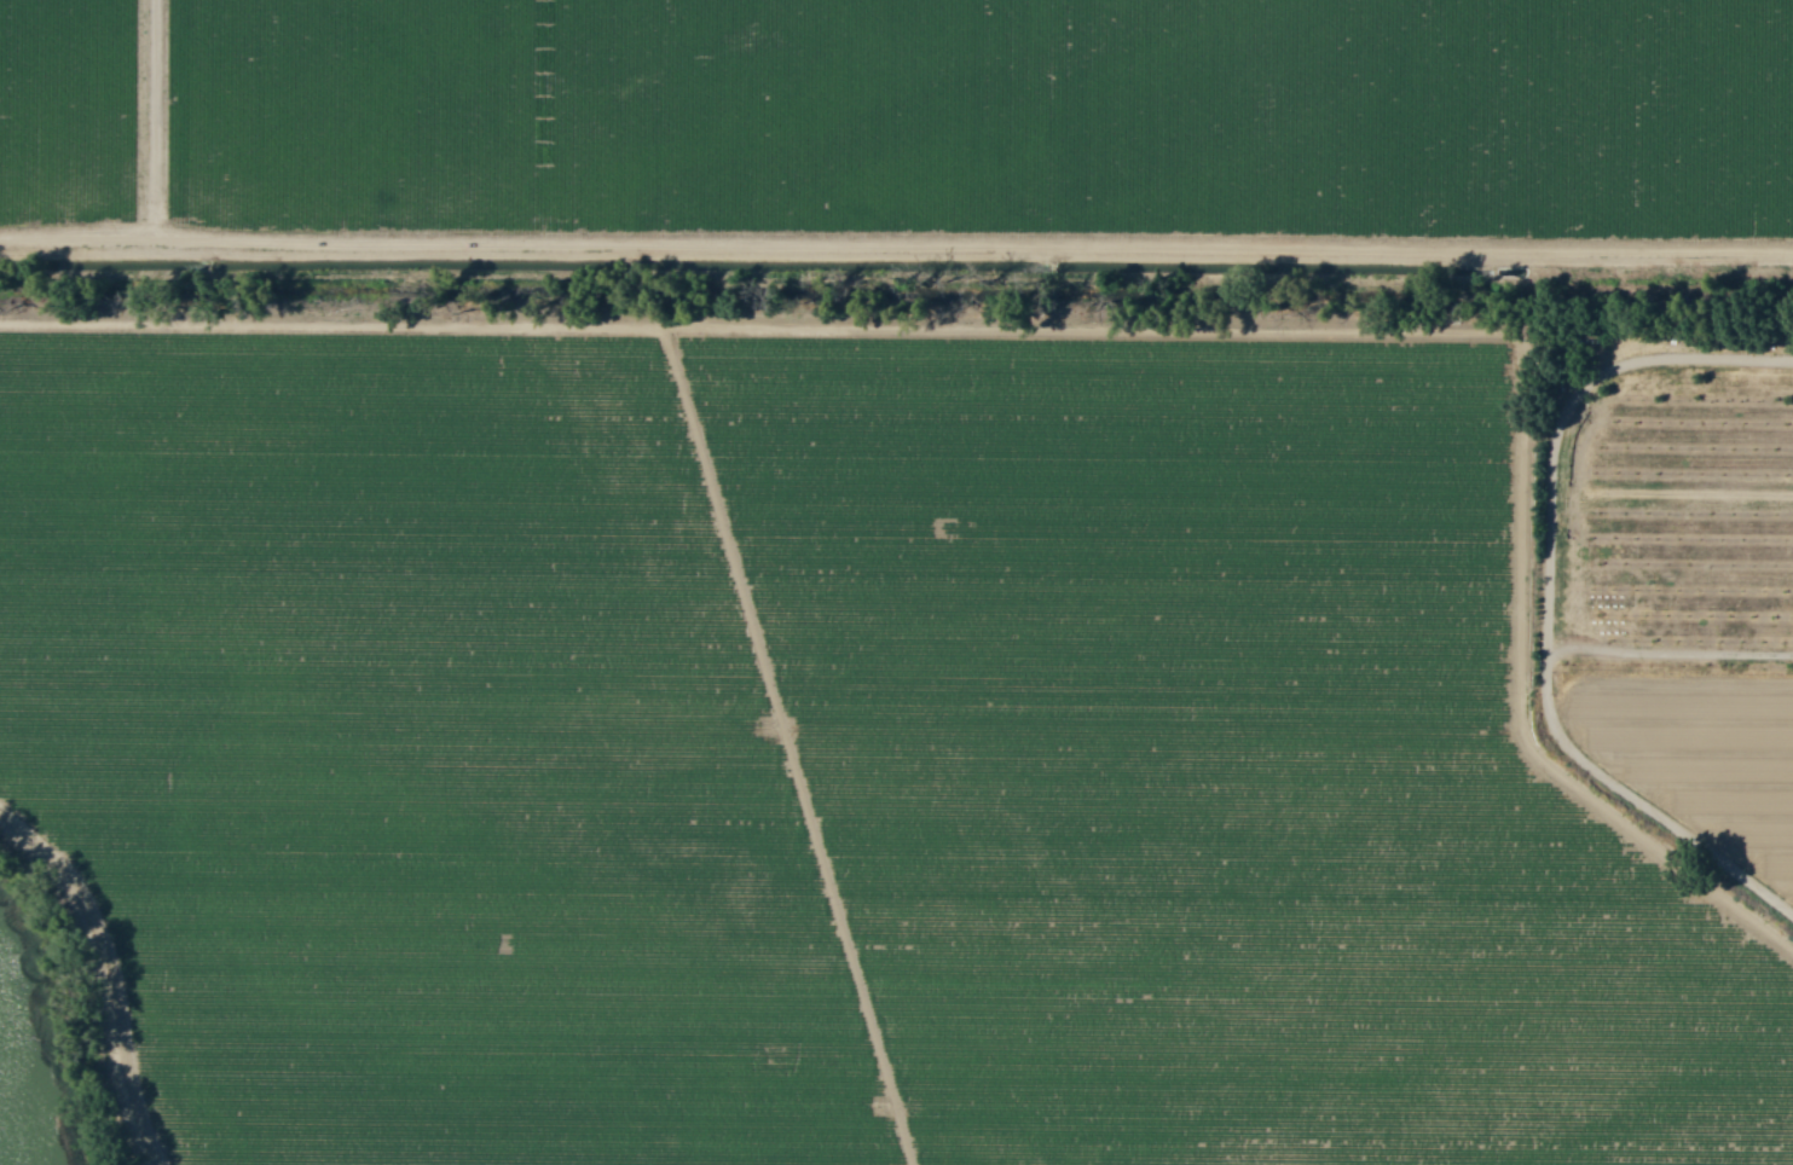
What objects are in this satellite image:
road: (896, 253)
road: (1571, 412)
road: (1670, 655)
road: (1639, 804)

